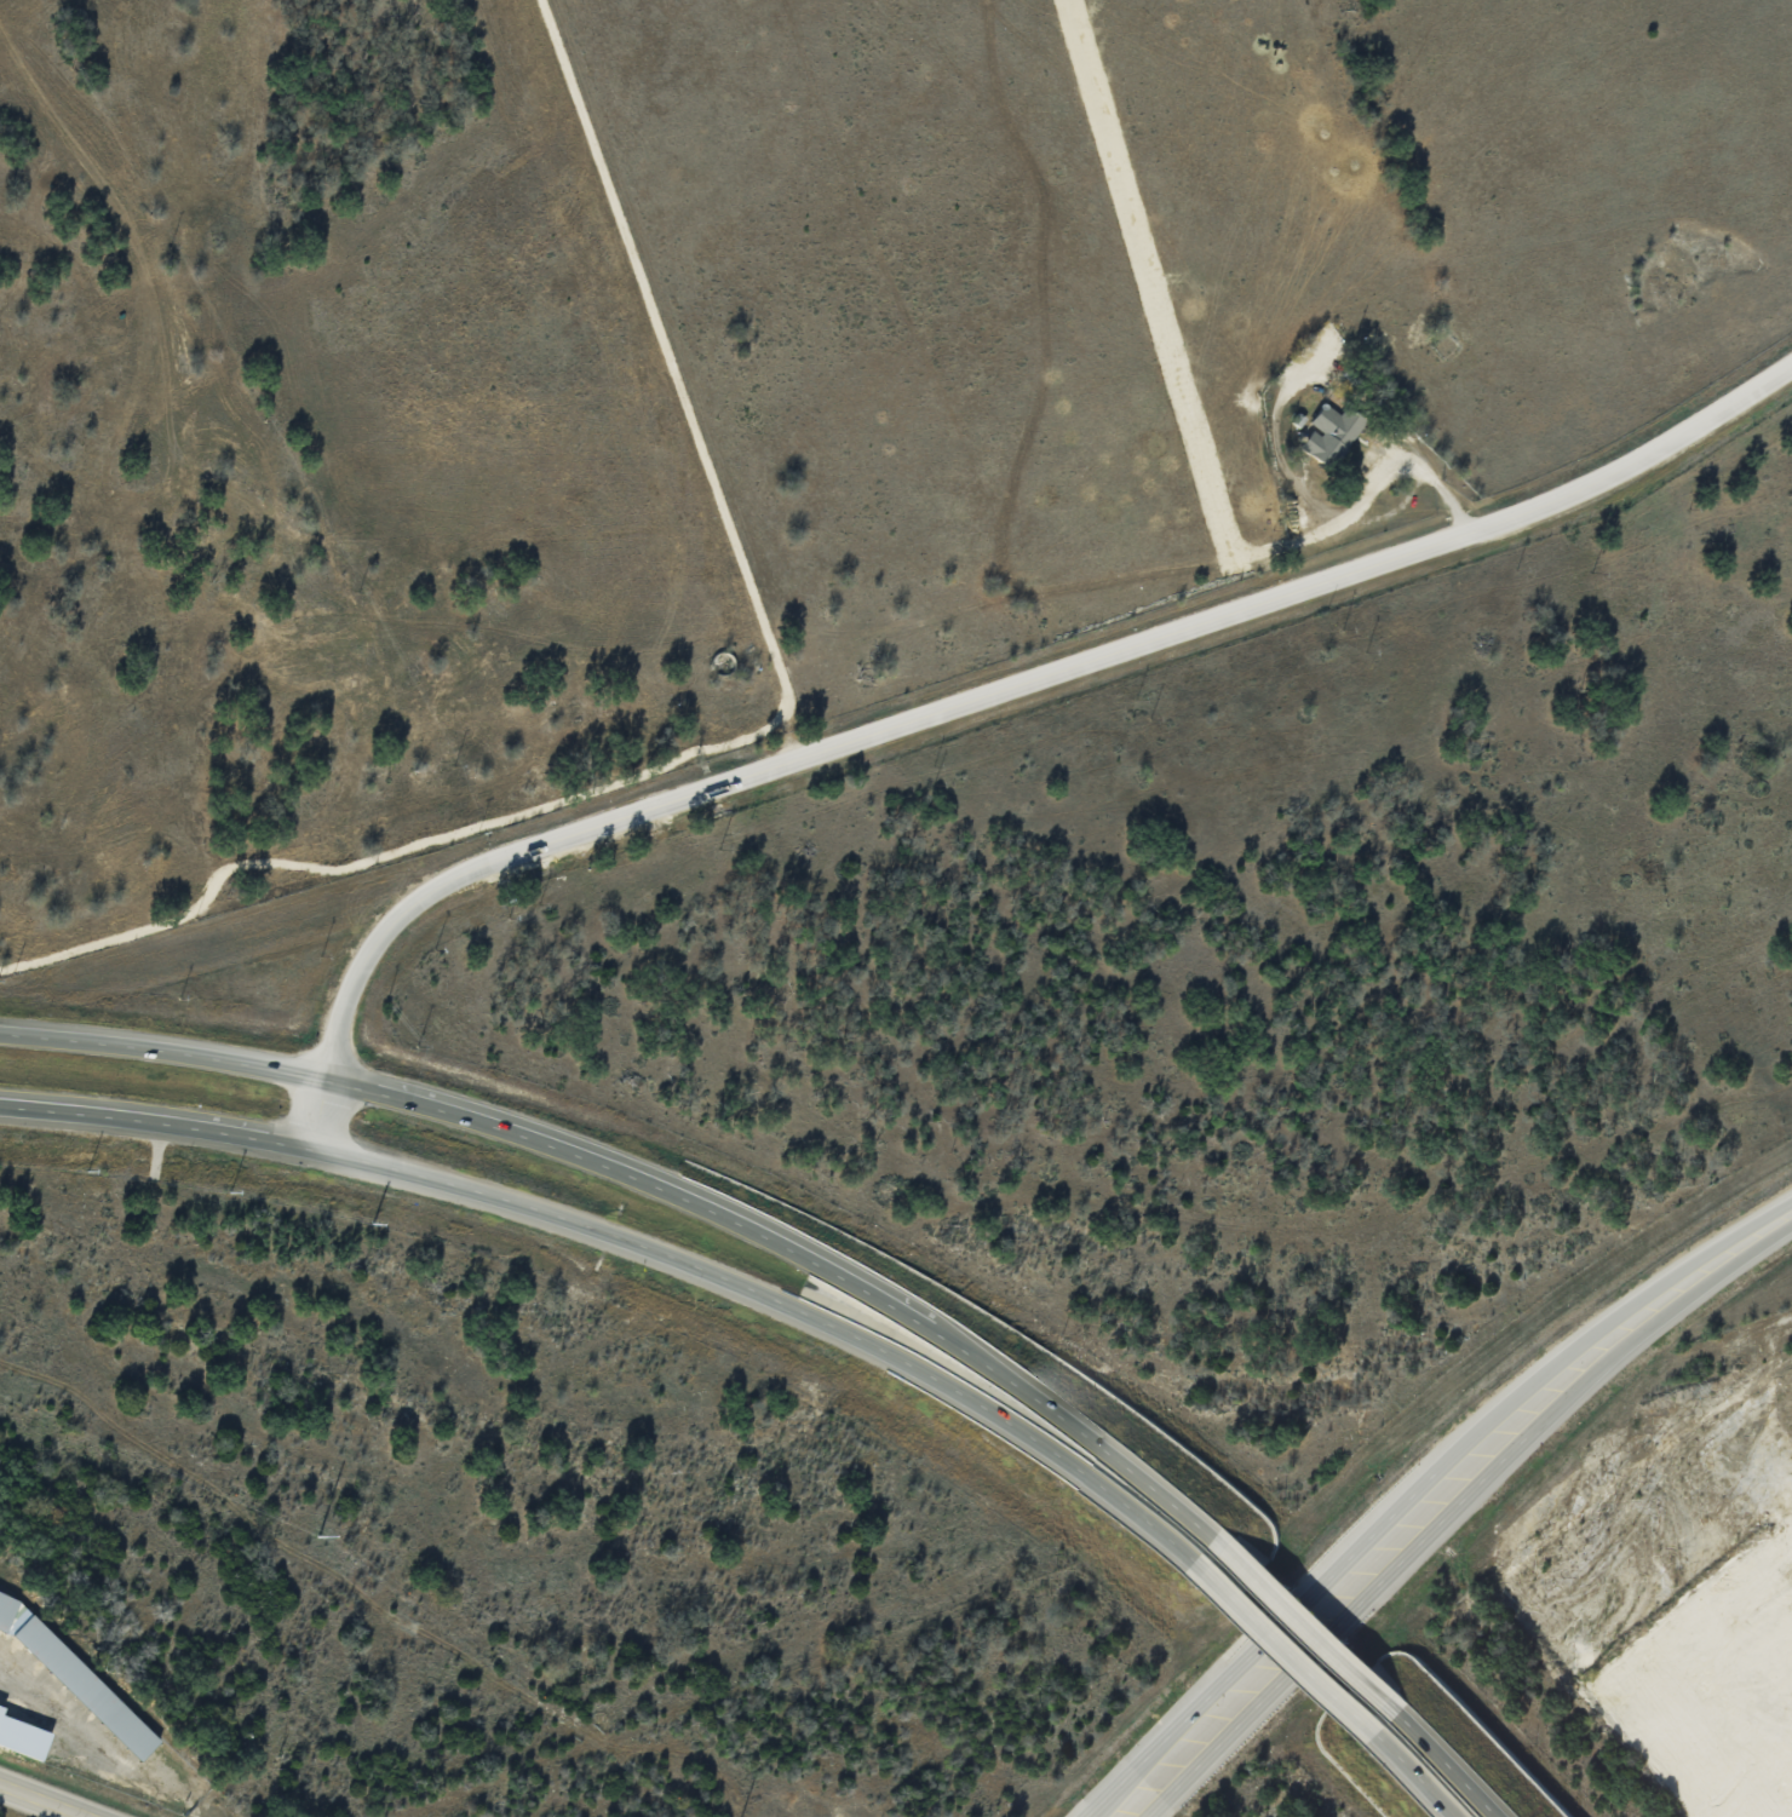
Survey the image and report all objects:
road: (1187, 415)
building: (1329, 435)
road: (1015, 685)
road: (163, 1048)
road: (318, 1115)
road: (155, 1123)
road: (809, 1255)
road: (787, 1303)
road: (1431, 1493)
power tower: (314, 1535)
building: (6, 1604)
road: (1311, 1628)
road: (1288, 1651)
building: (84, 1686)
road: (1444, 1763)
road: (1406, 1773)
road: (42, 1800)

